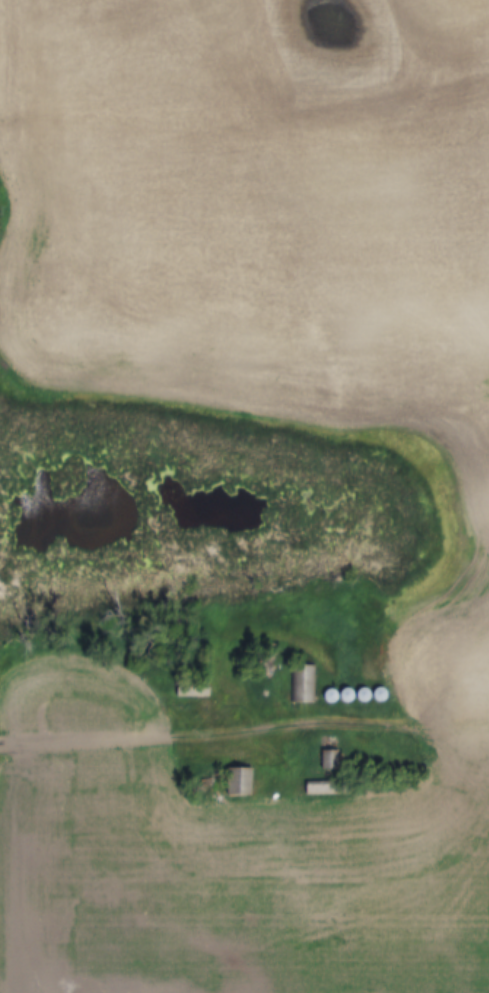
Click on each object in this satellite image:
building: (304, 685)
building: (198, 690)
road: (153, 741)
building: (333, 761)
building: (243, 783)

